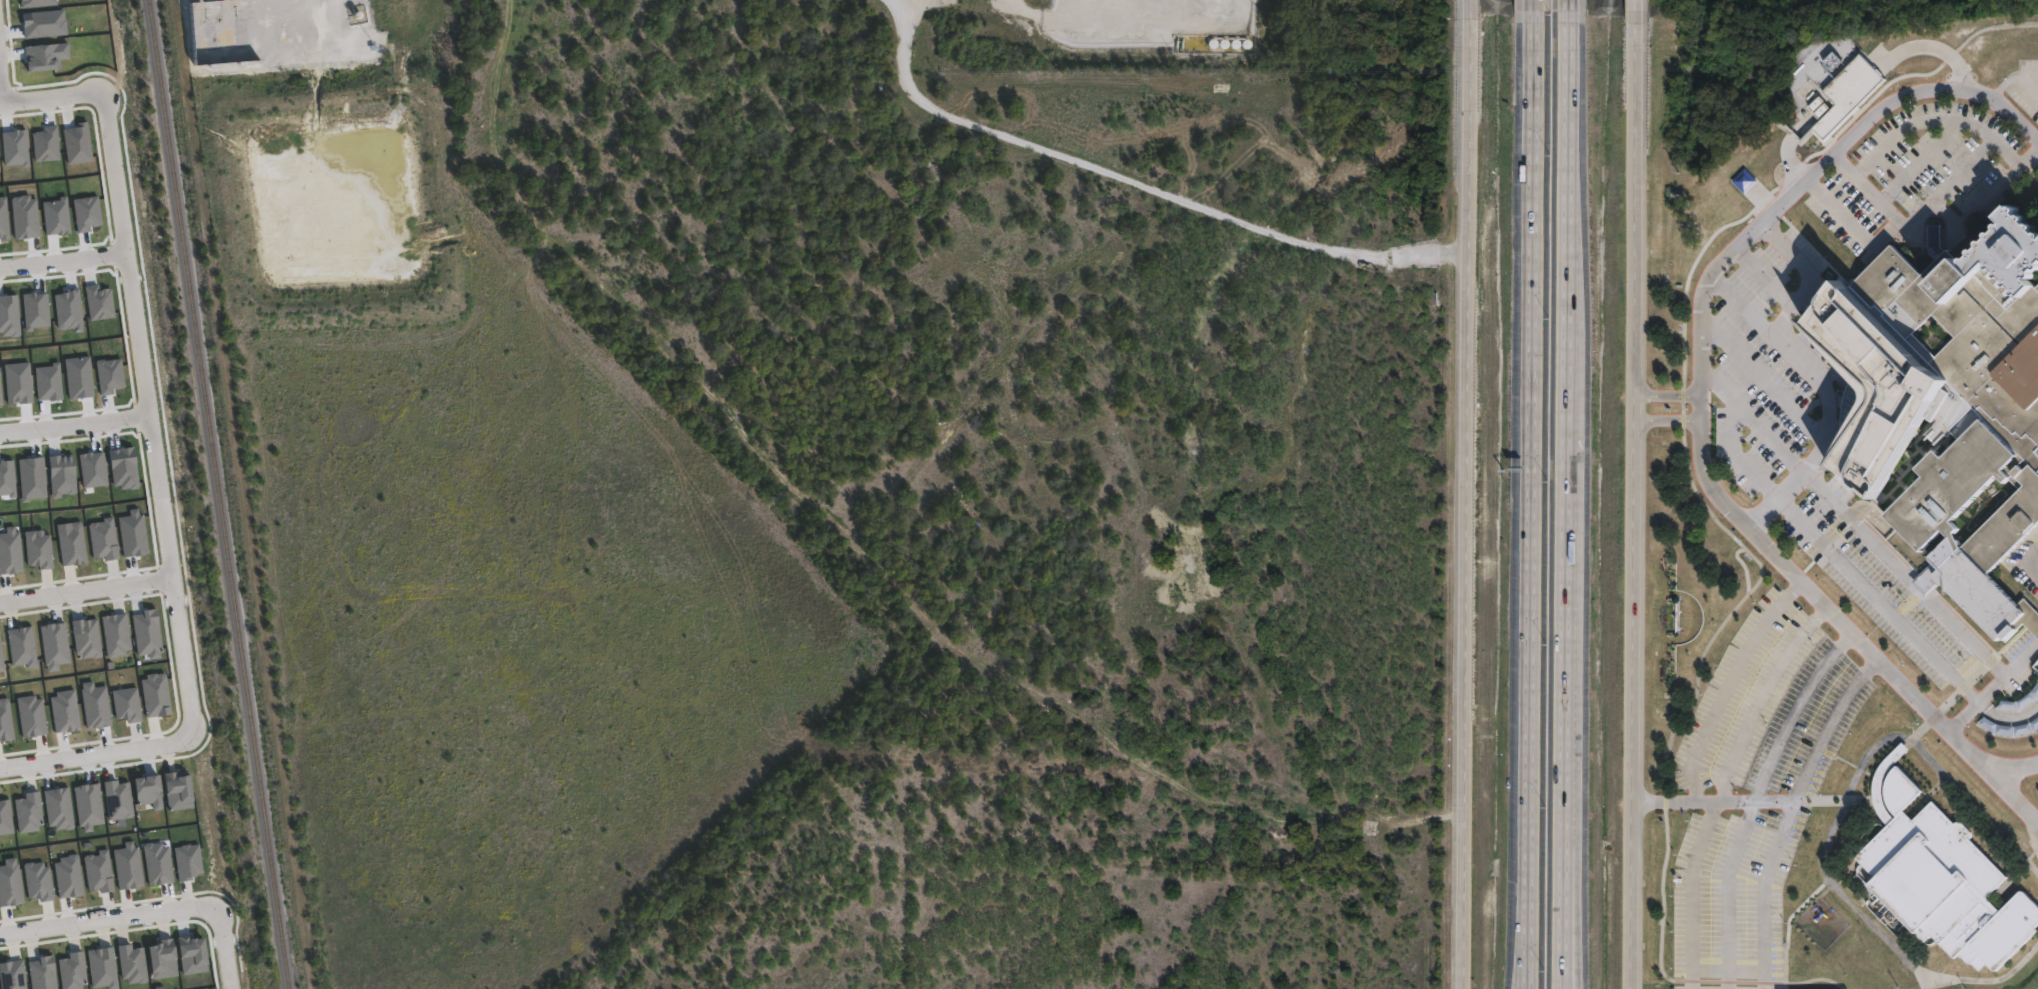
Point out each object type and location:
road: (1471, 1)
road: (1536, 11)
road: (1570, 11)
road: (1637, 12)
road: (1059, 18)
road: (2, 80)
building: (1818, 80)
road: (2013, 80)
road: (2032, 85)
road: (1939, 117)
road: (1922, 163)
road: (1809, 178)
road: (1142, 182)
road: (117, 188)
road: (1873, 194)
road: (1982, 211)
road: (1905, 225)
road: (1810, 277)
road: (1762, 280)
road: (1764, 368)
road: (143, 375)
road: (1667, 393)
road: (1825, 393)
building: (1954, 401)
road: (1666, 420)
road: (74, 423)
road: (1532, 476)
railway: (219, 494)
road: (1465, 495)
road: (1567, 505)
road: (1633, 506)
road: (1709, 512)
road: (1887, 542)
road: (1842, 551)
road: (2026, 569)
road: (86, 590)
road: (178, 614)
road: (1839, 621)
road: (2023, 651)
road: (1729, 682)
road: (1761, 696)
road: (2008, 706)
road: (96, 755)
road: (2036, 764)
road: (2012, 790)
road: (1793, 795)
road: (1761, 801)
road: (2025, 860)
building: (1945, 881)
road: (1765, 892)
road: (1691, 893)
road: (103, 917)
road: (1571, 923)
road: (223, 945)
road: (1522, 959)
road: (1527, 959)
road: (1990, 981)

